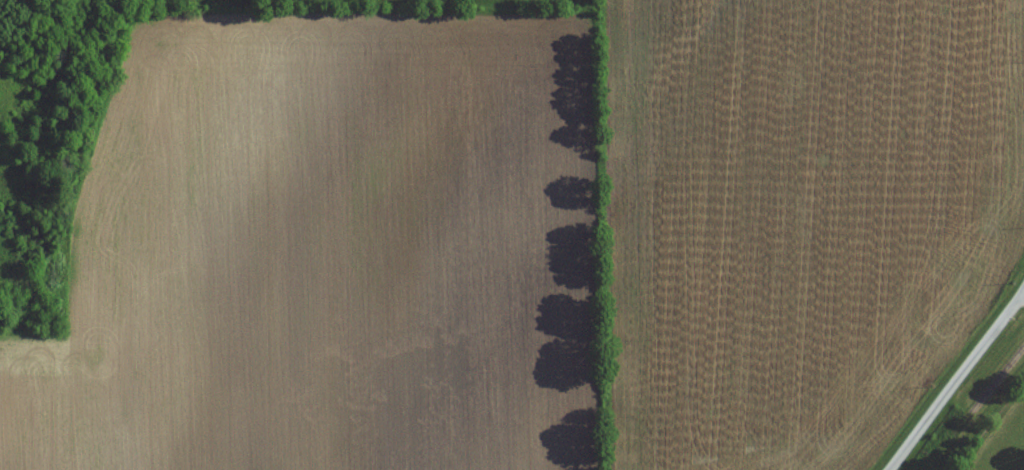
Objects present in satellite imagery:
road: (956, 379)
railway: (945, 444)

